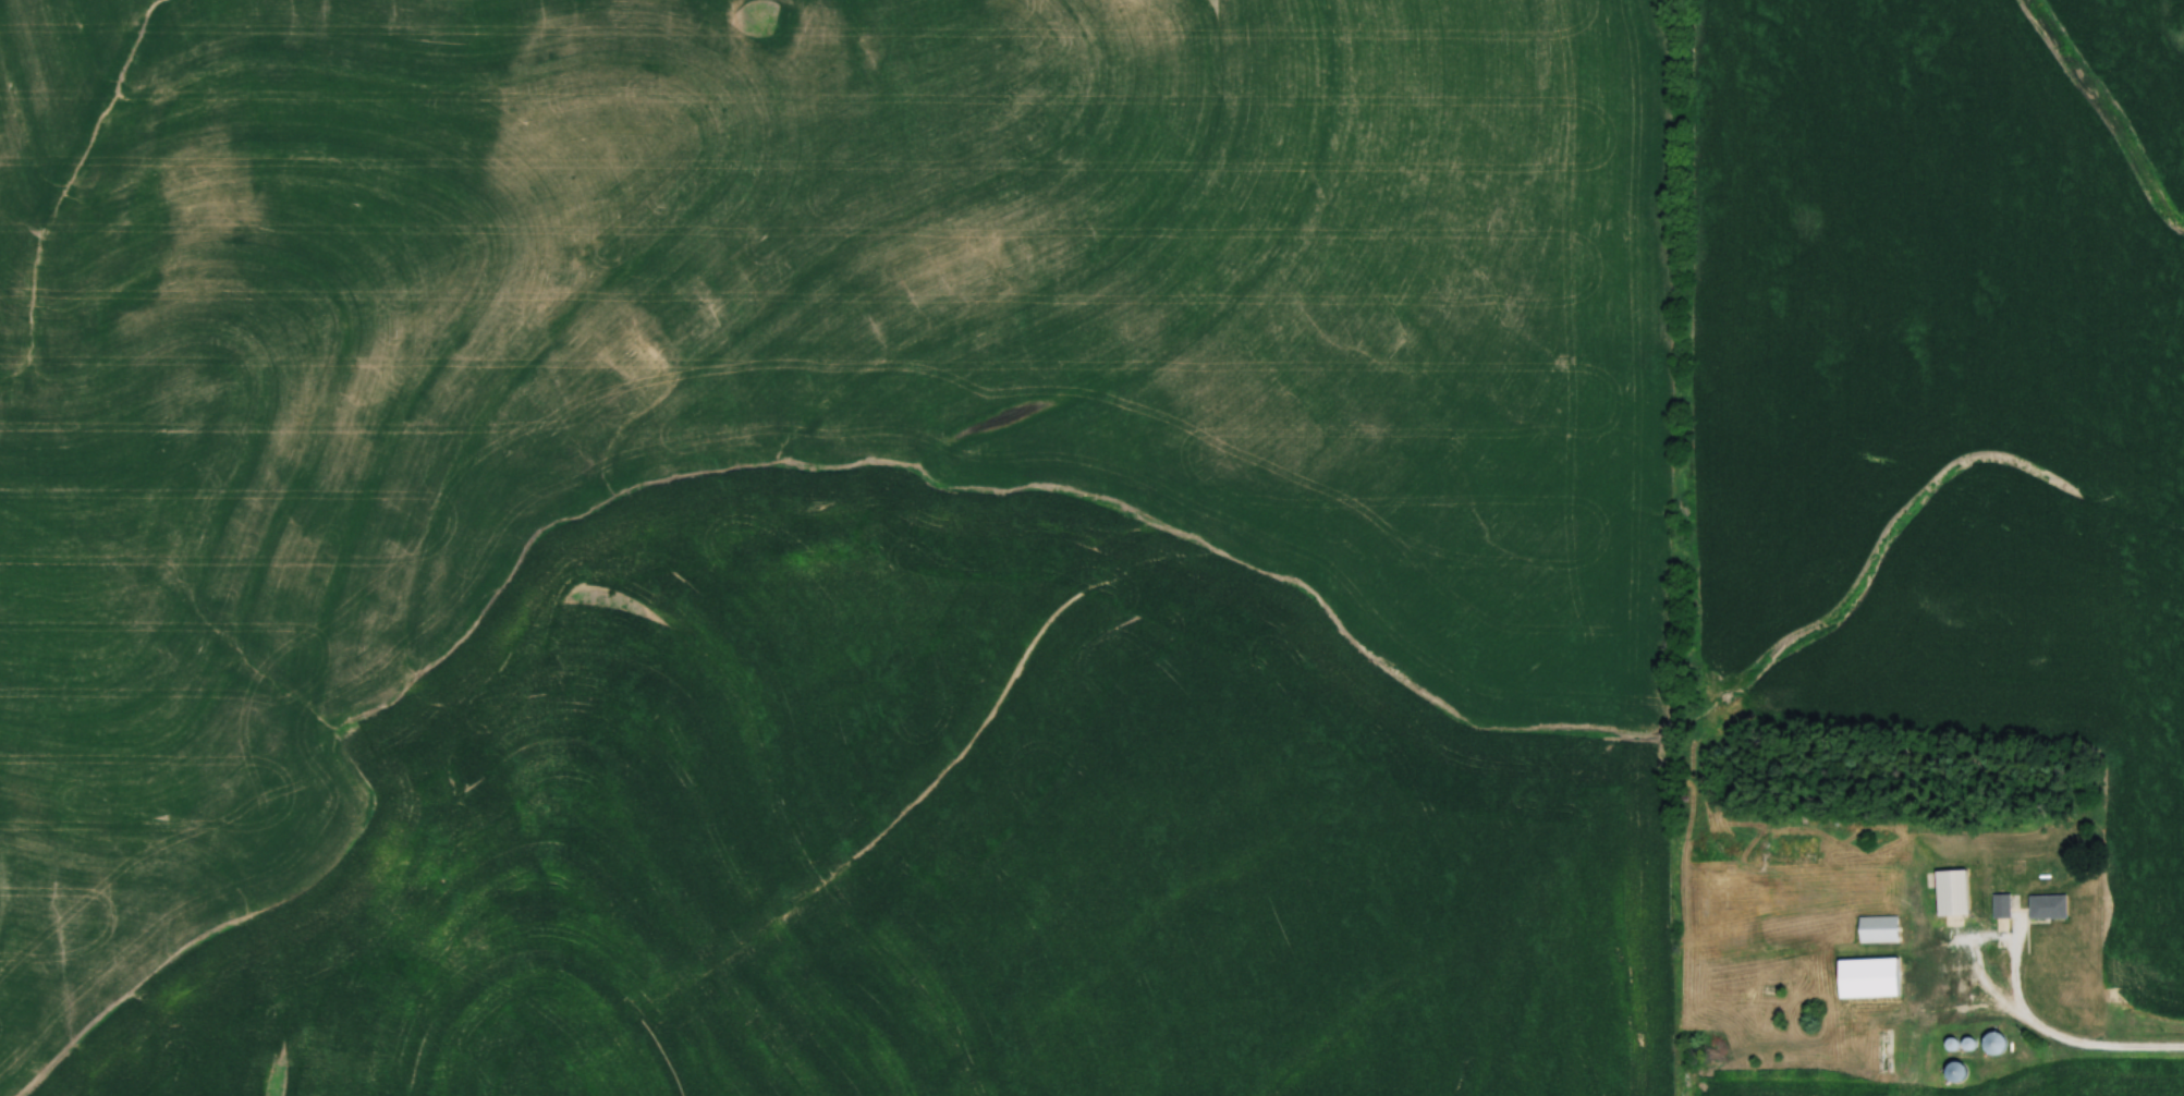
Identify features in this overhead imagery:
building: (1951, 893)
building: (2001, 906)
building: (2047, 908)
building: (1878, 930)
building: (1996, 1046)
road: (2063, 1047)
building: (1891, 1052)
building: (1955, 1073)

